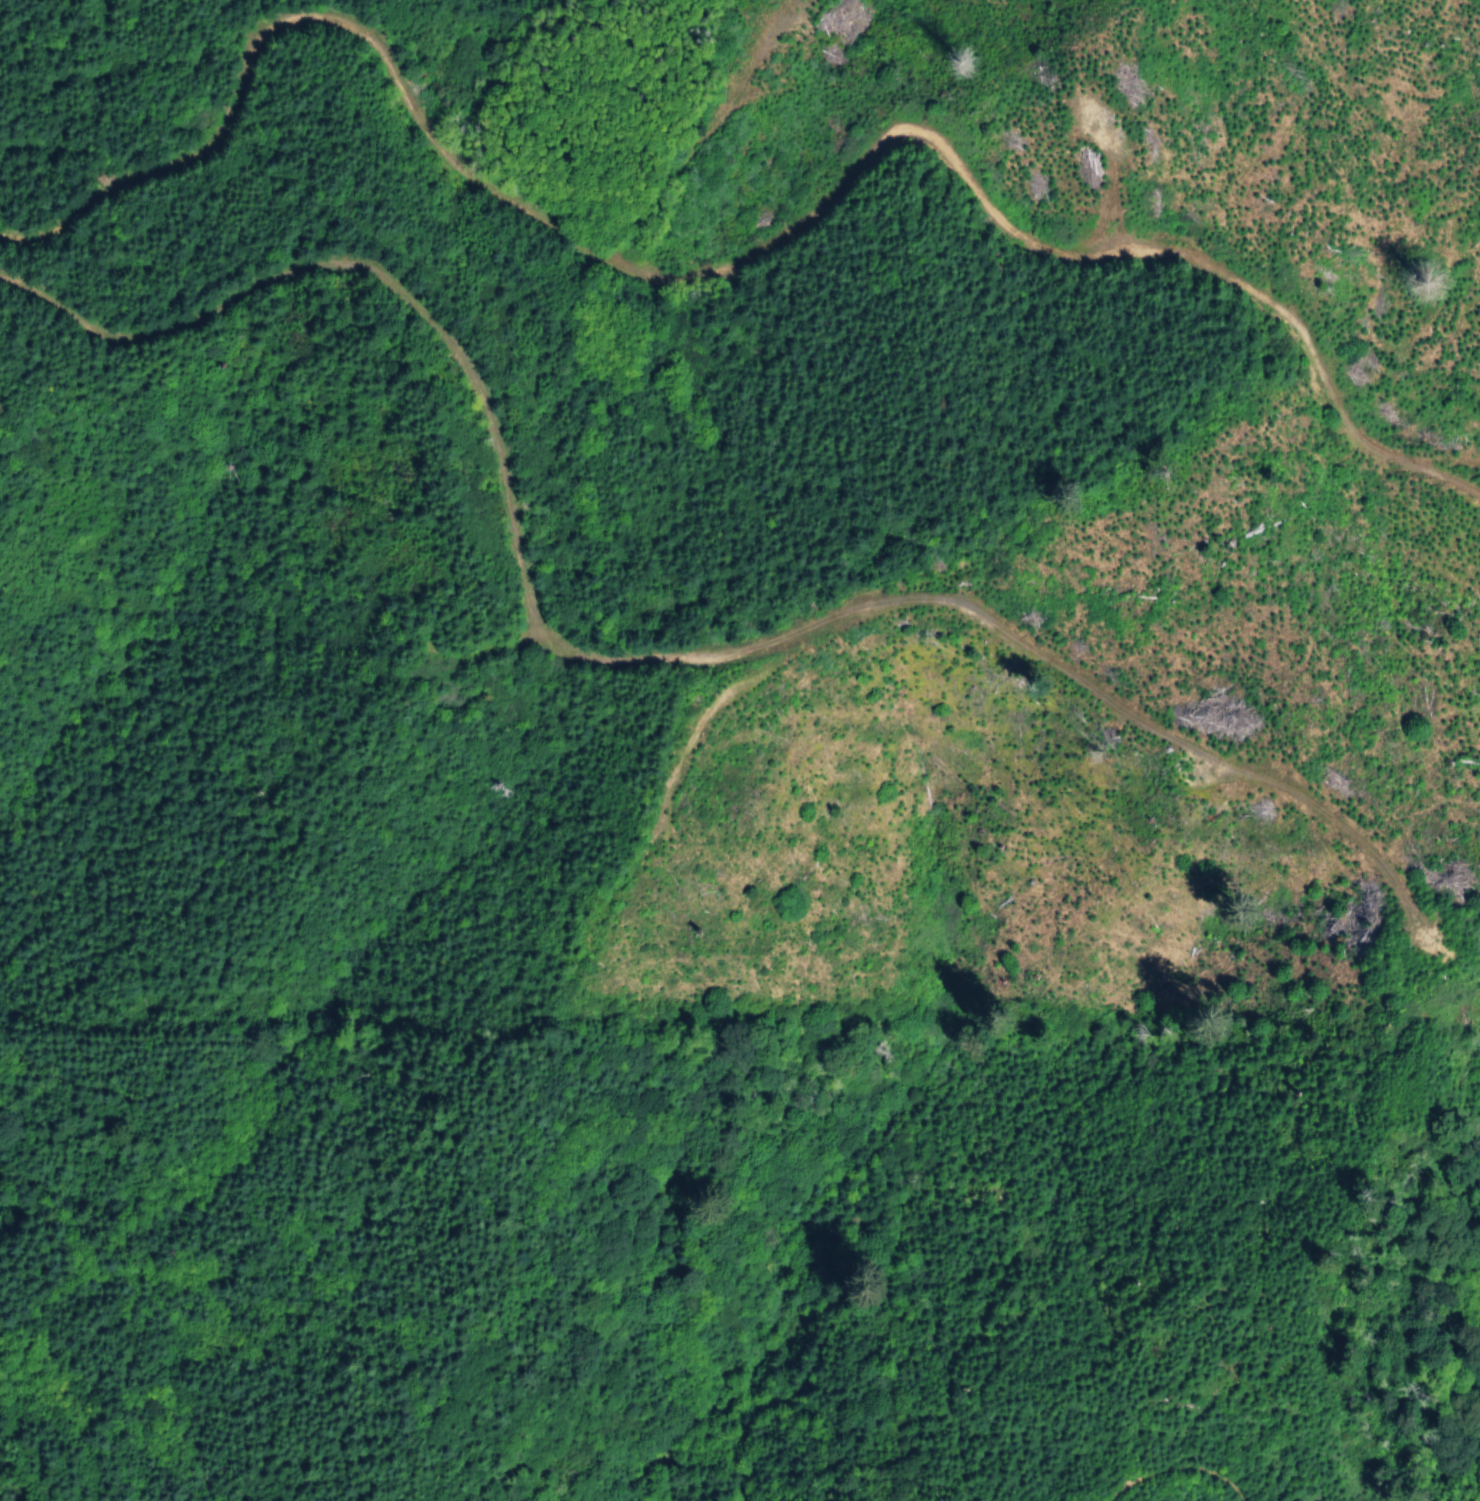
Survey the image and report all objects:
road: (1319, 168)
road: (691, 218)

